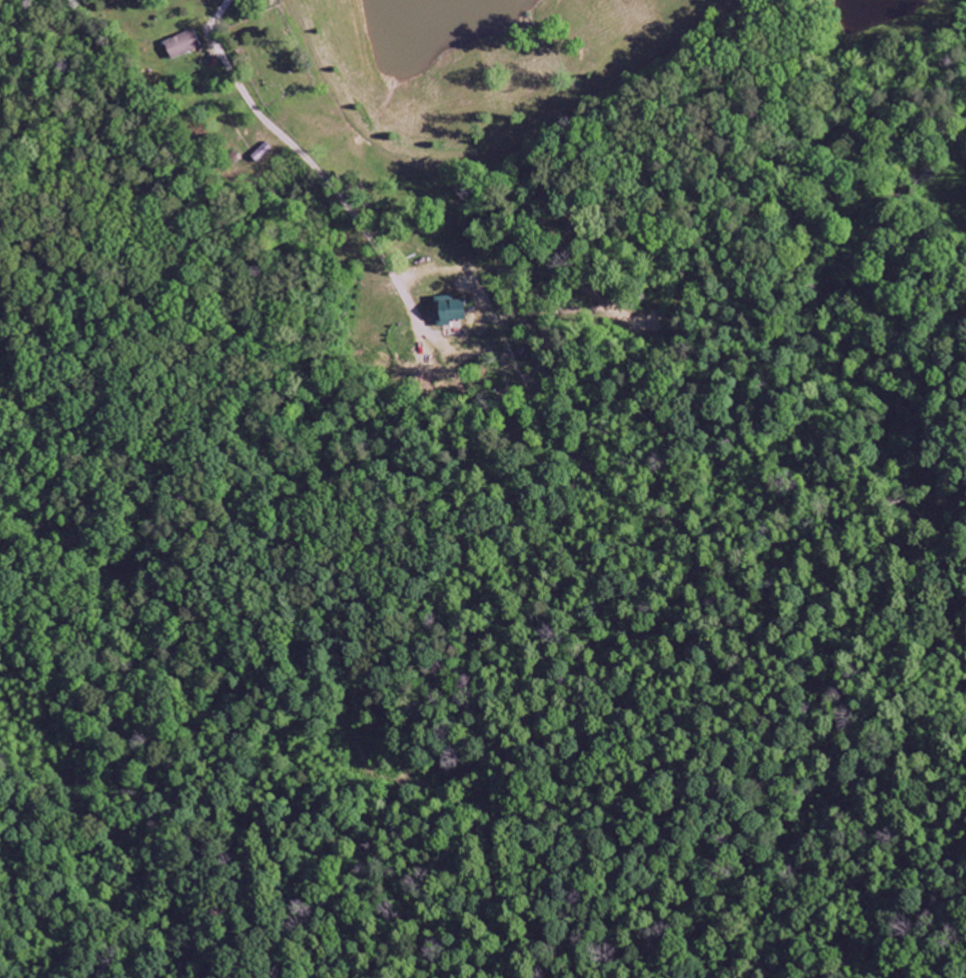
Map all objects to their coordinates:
building: (182, 44)
park: (270, 53)
road: (279, 137)
road: (459, 154)
building: (457, 305)

